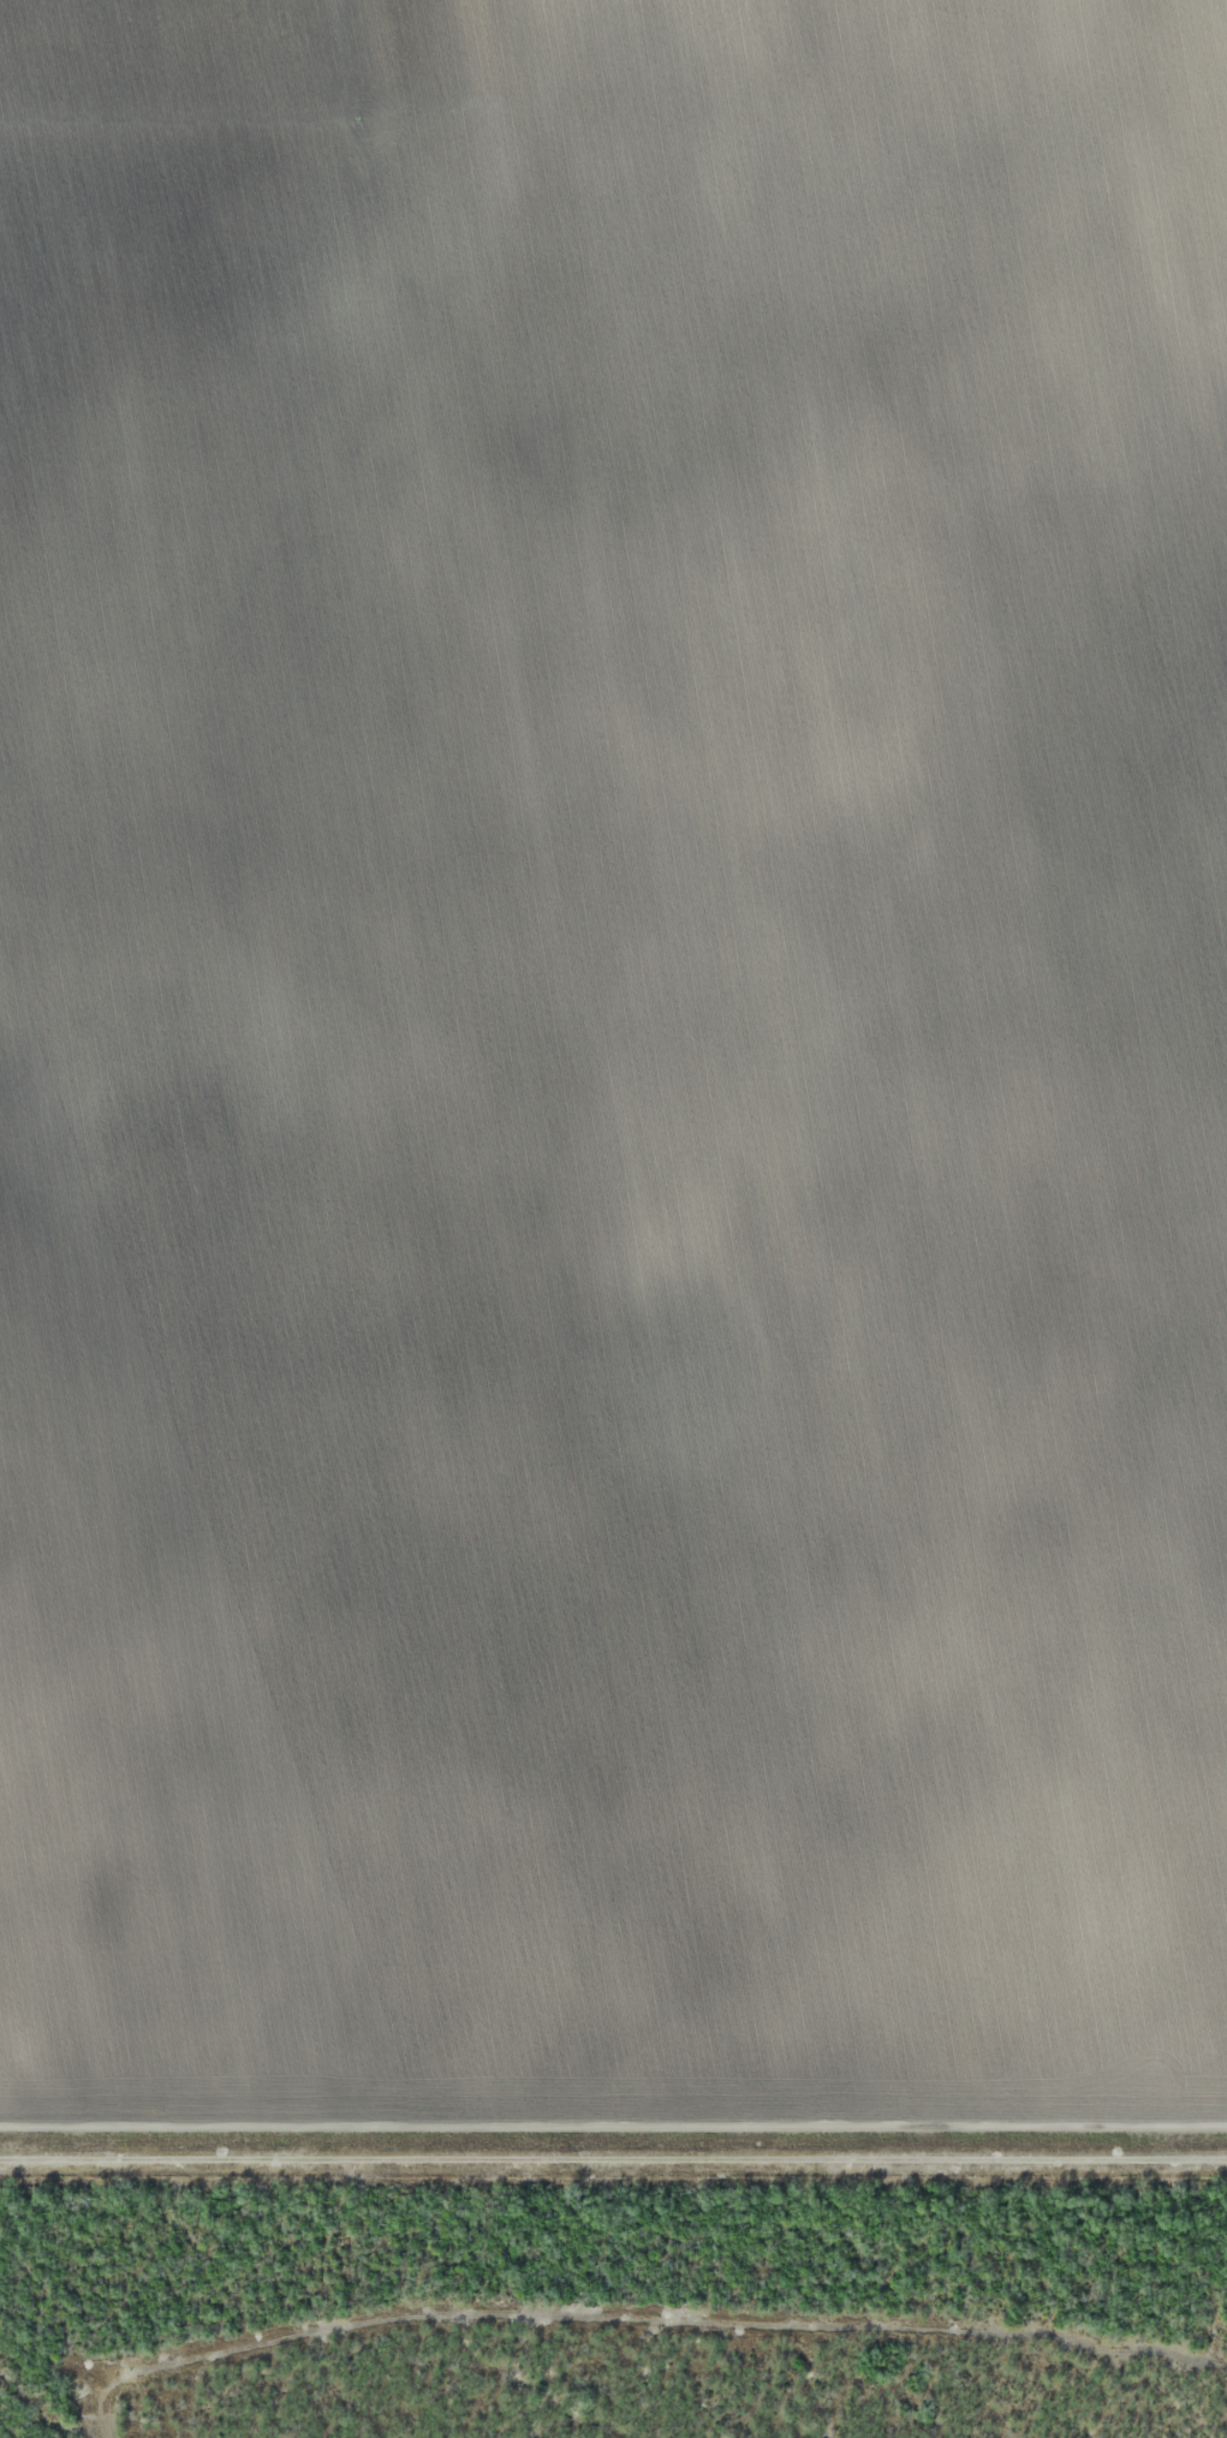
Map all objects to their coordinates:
road: (613, 2153)

